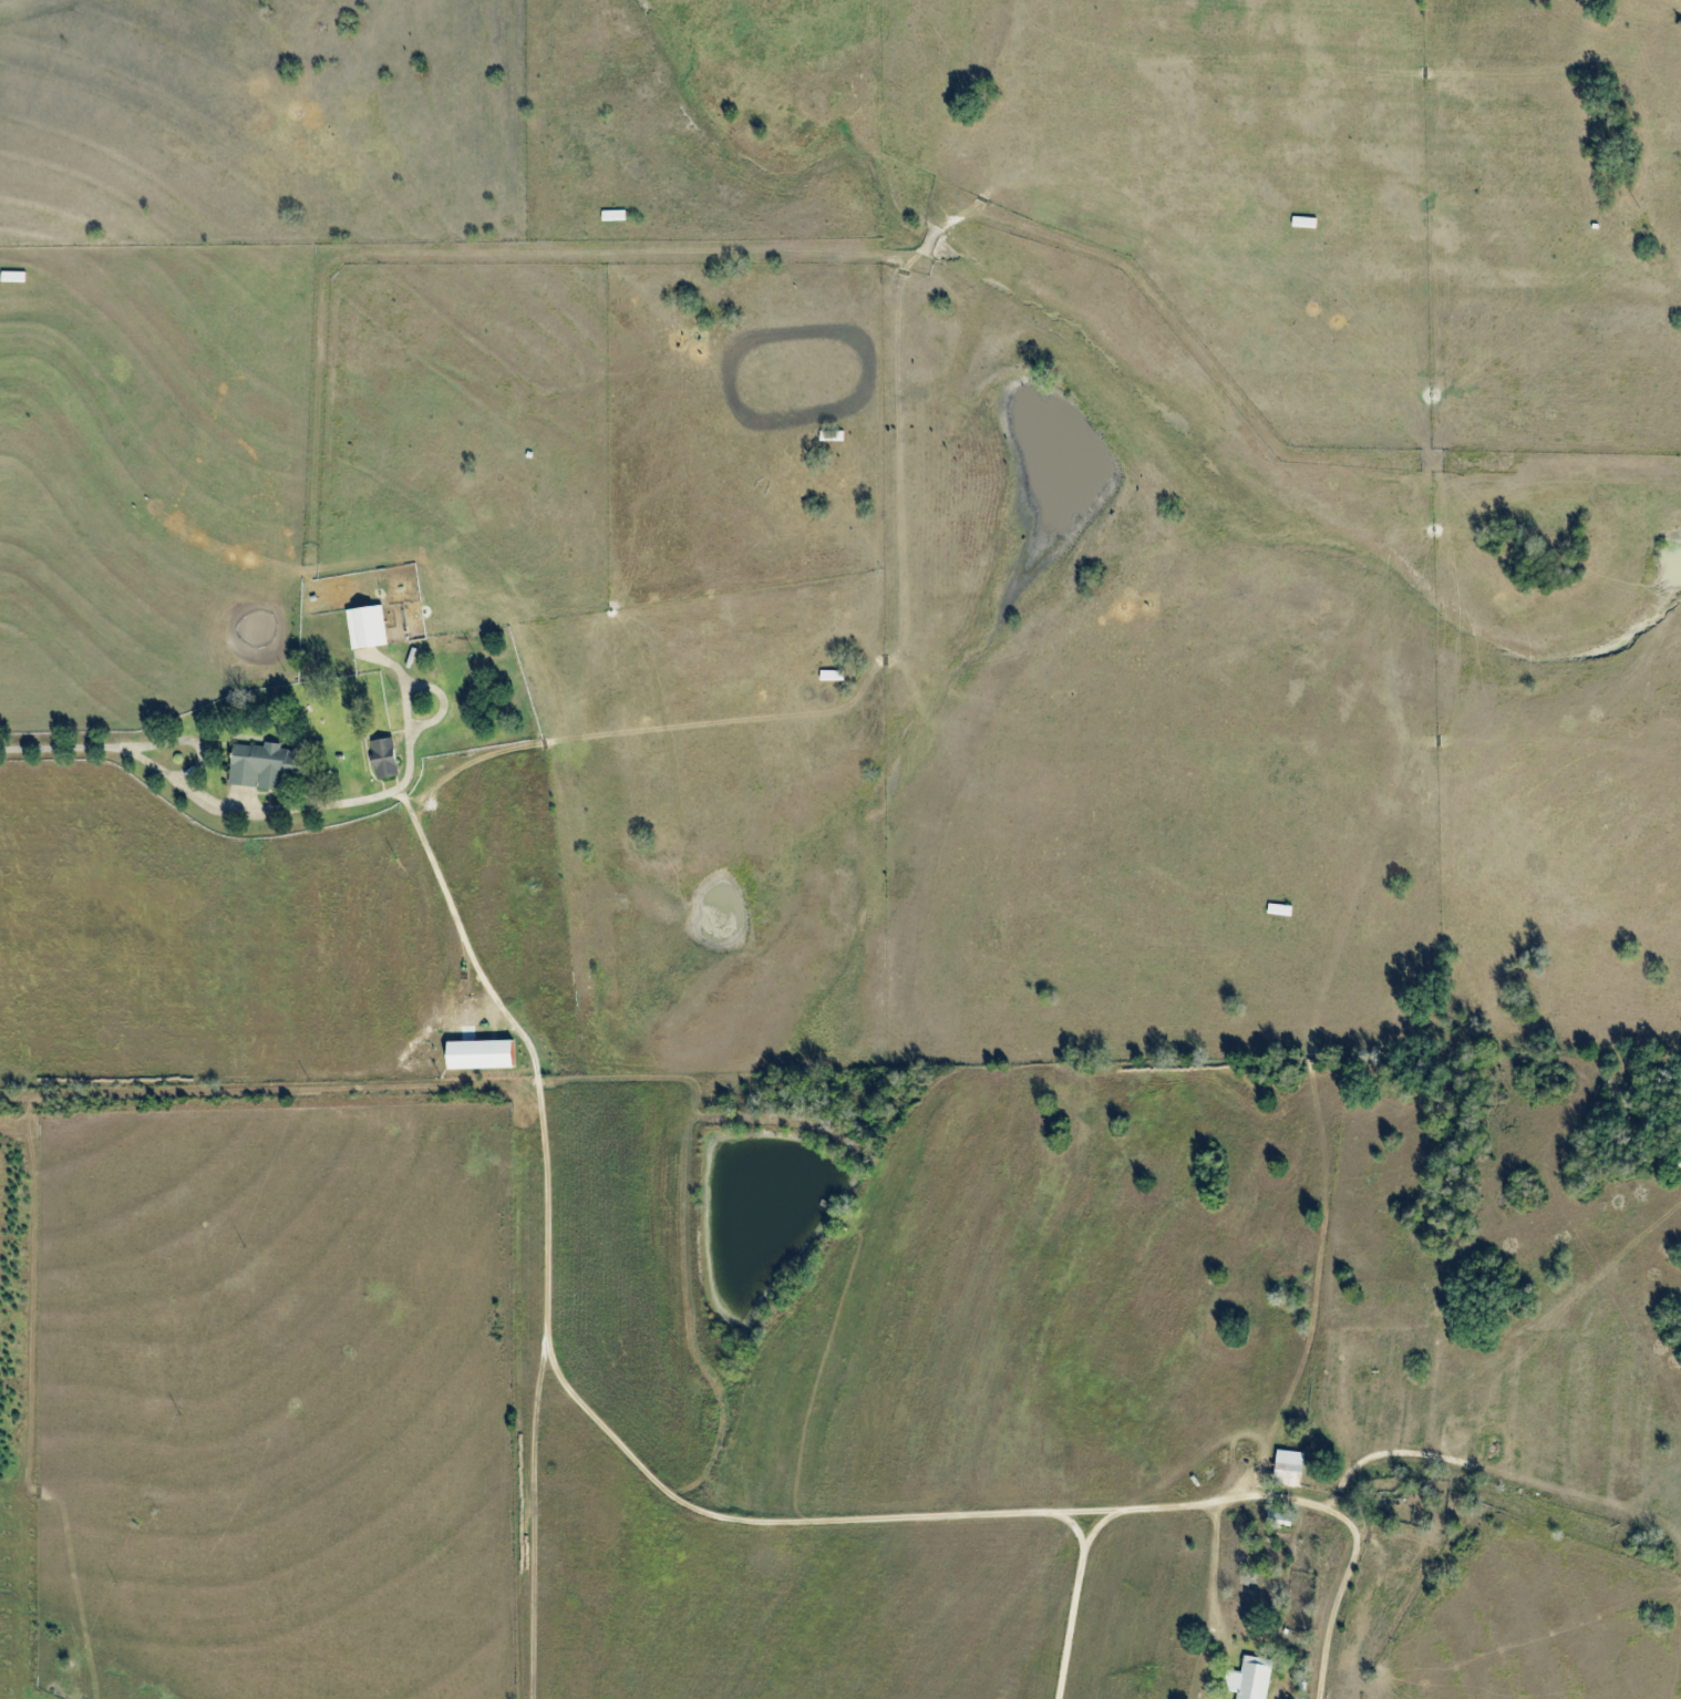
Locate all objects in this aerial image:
building: (367, 628)
building: (831, 676)
building: (383, 759)
building: (265, 766)
road: (249, 805)
building: (478, 1054)
road: (597, 1418)
building: (1288, 1469)
road: (1328, 1621)
building: (1249, 1679)

